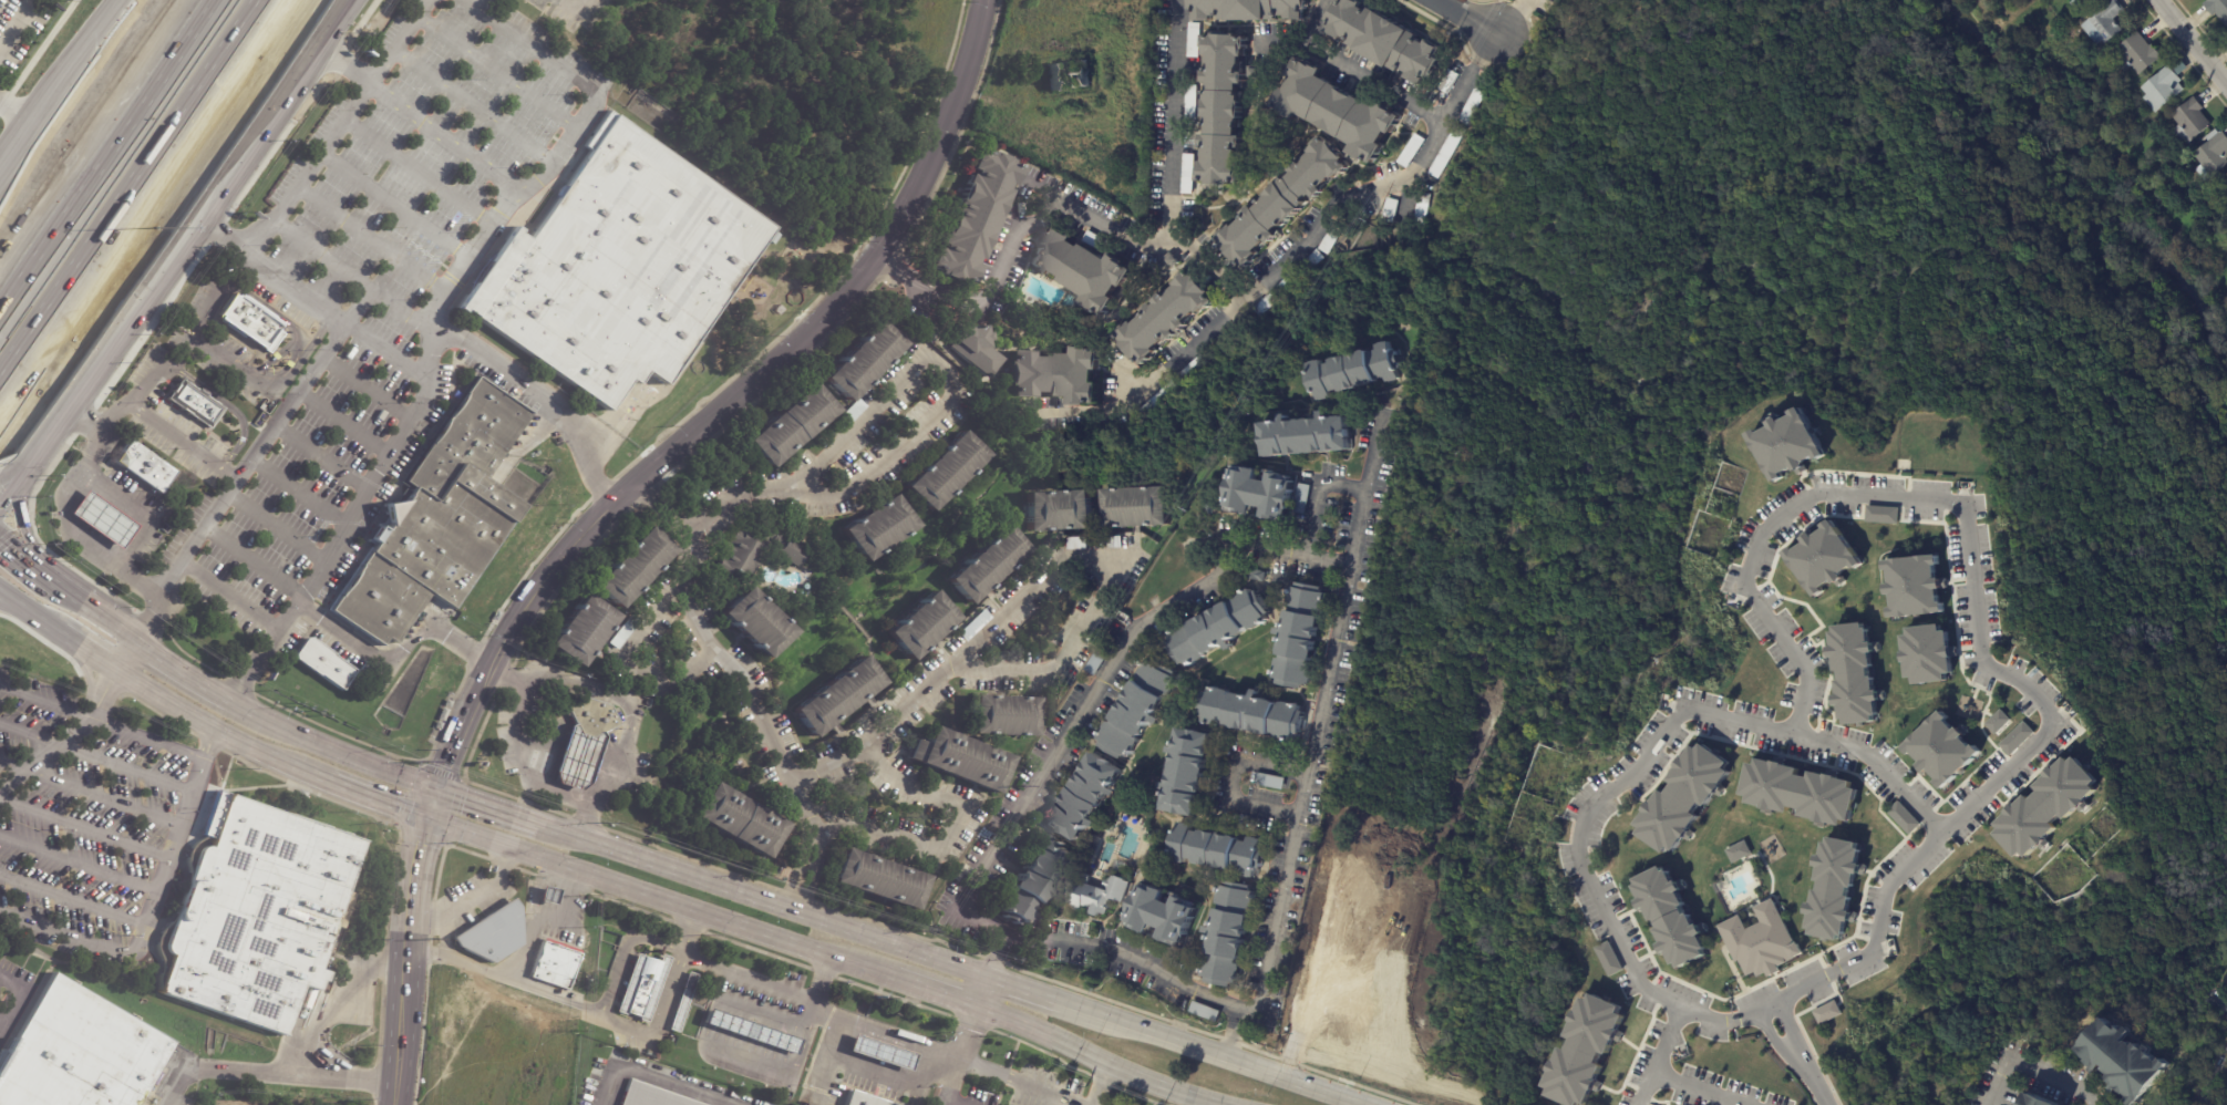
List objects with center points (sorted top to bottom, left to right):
building: (2083, 2)
building: (1248, 9)
road: (573, 10)
building: (2217, 10)
road: (1470, 17)
road: (1509, 17)
road: (13, 20)
building: (2102, 24)
road: (2194, 39)
building: (1196, 40)
road: (1282, 41)
building: (1385, 41)
road: (1489, 47)
road: (529, 48)
building: (2135, 54)
building: (1277, 60)
road: (80, 63)
road: (346, 65)
road: (297, 68)
road: (305, 69)
road: (1351, 70)
building: (1261, 72)
road: (497, 74)
building: (1450, 82)
building: (2162, 86)
road: (1461, 92)
building: (2127, 96)
building: (1193, 103)
road: (475, 106)
building: (1472, 106)
building: (1221, 109)
building: (1339, 112)
road: (18, 115)
road: (1173, 121)
building: (2187, 122)
road: (338, 126)
road: (444, 136)
road: (100, 145)
building: (1412, 151)
road: (18, 152)
building: (1447, 152)
building: (2211, 156)
road: (230, 168)
road: (417, 172)
building: (1189, 174)
building: (2225, 183)
road: (133, 195)
road: (1037, 198)
building: (1283, 200)
road: (393, 205)
building: (1391, 210)
building: (1422, 211)
building: (977, 217)
road: (370, 239)
building: (1332, 240)
building: (1097, 242)
building: (1173, 259)
building: (1312, 264)
road: (228, 265)
building: (617, 266)
building: (1082, 269)
road: (352, 273)
road: (1250, 293)
building: (1277, 295)
road: (310, 296)
road: (274, 311)
building: (1164, 317)
building: (251, 321)
road: (115, 337)
road: (793, 348)
building: (978, 349)
building: (274, 359)
building: (864, 362)
building: (1352, 369)
building: (1058, 371)
building: (1192, 371)
road: (153, 373)
road: (269, 380)
road: (368, 388)
road: (423, 397)
building: (1158, 400)
road: (538, 402)
building: (195, 404)
road: (226, 404)
building: (850, 416)
road: (346, 422)
building: (791, 426)
building: (1307, 434)
road: (183, 441)
building: (1786, 443)
road: (322, 458)
road: (249, 462)
building: (145, 466)
building: (947, 473)
road: (11, 475)
road: (11, 488)
road: (787, 489)
road: (300, 493)
building: (1267, 493)
building: (1135, 507)
building: (1212, 507)
road: (661, 508)
building: (1059, 510)
road: (1957, 510)
building: (1880, 515)
road: (1311, 518)
building: (437, 520)
building: (102, 521)
road: (278, 528)
building: (880, 528)
road: (23, 533)
building: (1114, 543)
building: (1080, 544)
building: (754, 551)
building: (1822, 556)
road: (105, 561)
road: (255, 561)
building: (988, 565)
road: (28, 566)
building: (632, 567)
building: (1258, 576)
road: (137, 584)
building: (1914, 584)
road: (1037, 585)
road: (4, 592)
road: (230, 596)
road: (20, 602)
road: (14, 606)
road: (96, 612)
road: (45, 619)
building: (756, 623)
building: (921, 624)
building: (975, 624)
building: (1220, 628)
building: (580, 632)
building: (625, 632)
building: (1301, 634)
road: (501, 647)
road: (91, 648)
road: (130, 653)
building: (1928, 653)
road: (396, 655)
building: (1096, 660)
building: (322, 663)
road: (629, 664)
road: (1106, 669)
road: (508, 672)
building: (1856, 678)
road: (570, 681)
road: (200, 682)
building: (839, 698)
road: (472, 703)
building: (1138, 709)
building: (1252, 714)
building: (443, 715)
building: (1002, 715)
road: (1728, 715)
road: (101, 722)
building: (1997, 722)
road: (223, 731)
road: (69, 735)
building: (2015, 739)
building: (584, 743)
building: (1942, 747)
road: (621, 754)
road: (350, 756)
road: (96, 757)
building: (960, 758)
road: (526, 766)
road: (446, 768)
building: (1188, 774)
road: (1234, 779)
building: (1271, 783)
building: (1801, 789)
traffic signals: (439, 791)
road: (91, 793)
road: (1302, 794)
building: (1683, 796)
building: (1086, 797)
road: (381, 798)
road: (433, 804)
building: (2048, 806)
road: (487, 807)
traffic signals: (429, 817)
building: (1903, 817)
road: (588, 822)
building: (741, 823)
road: (85, 828)
road: (176, 839)
road: (921, 843)
building: (1219, 851)
building: (1738, 851)
road: (81, 863)
building: (1034, 882)
building: (879, 884)
building: (1833, 886)
road: (651, 894)
building: (1096, 894)
road: (470, 896)
building: (547, 896)
road: (761, 899)
road: (73, 900)
building: (1164, 913)
building: (251, 915)
road: (972, 916)
building: (1670, 916)
road: (540, 919)
road: (689, 931)
building: (1229, 932)
road: (443, 933)
building: (493, 933)
road: (66, 934)
building: (1760, 939)
road: (1033, 940)
road: (626, 950)
building: (557, 958)
road: (404, 959)
building: (1607, 959)
road: (504, 979)
road: (818, 979)
road: (11, 984)
building: (643, 987)
road: (925, 988)
road: (1024, 989)
road: (1804, 990)
road: (981, 991)
building: (684, 1002)
road: (2221, 1008)
road: (11, 1010)
road: (330, 1010)
building: (1826, 1012)
building: (1206, 1013)
road: (1705, 1014)
road: (1239, 1015)
road: (659, 1019)
road: (774, 1020)
road: (1, 1025)
building: (754, 1033)
road: (884, 1033)
road: (1230, 1039)
road: (1791, 1039)
building: (1584, 1050)
road: (1213, 1052)
building: (883, 1053)
road: (960, 1054)
road: (1659, 1054)
building: (75, 1057)
road: (1095, 1057)
building: (2120, 1062)
road: (875, 1063)
road: (2202, 1071)
road: (275, 1073)
road: (2032, 1073)
road: (657, 1078)
road: (1100, 1084)
road: (1690, 1091)
building: (652, 1096)
building: (864, 1098)
building: (2033, 1101)

